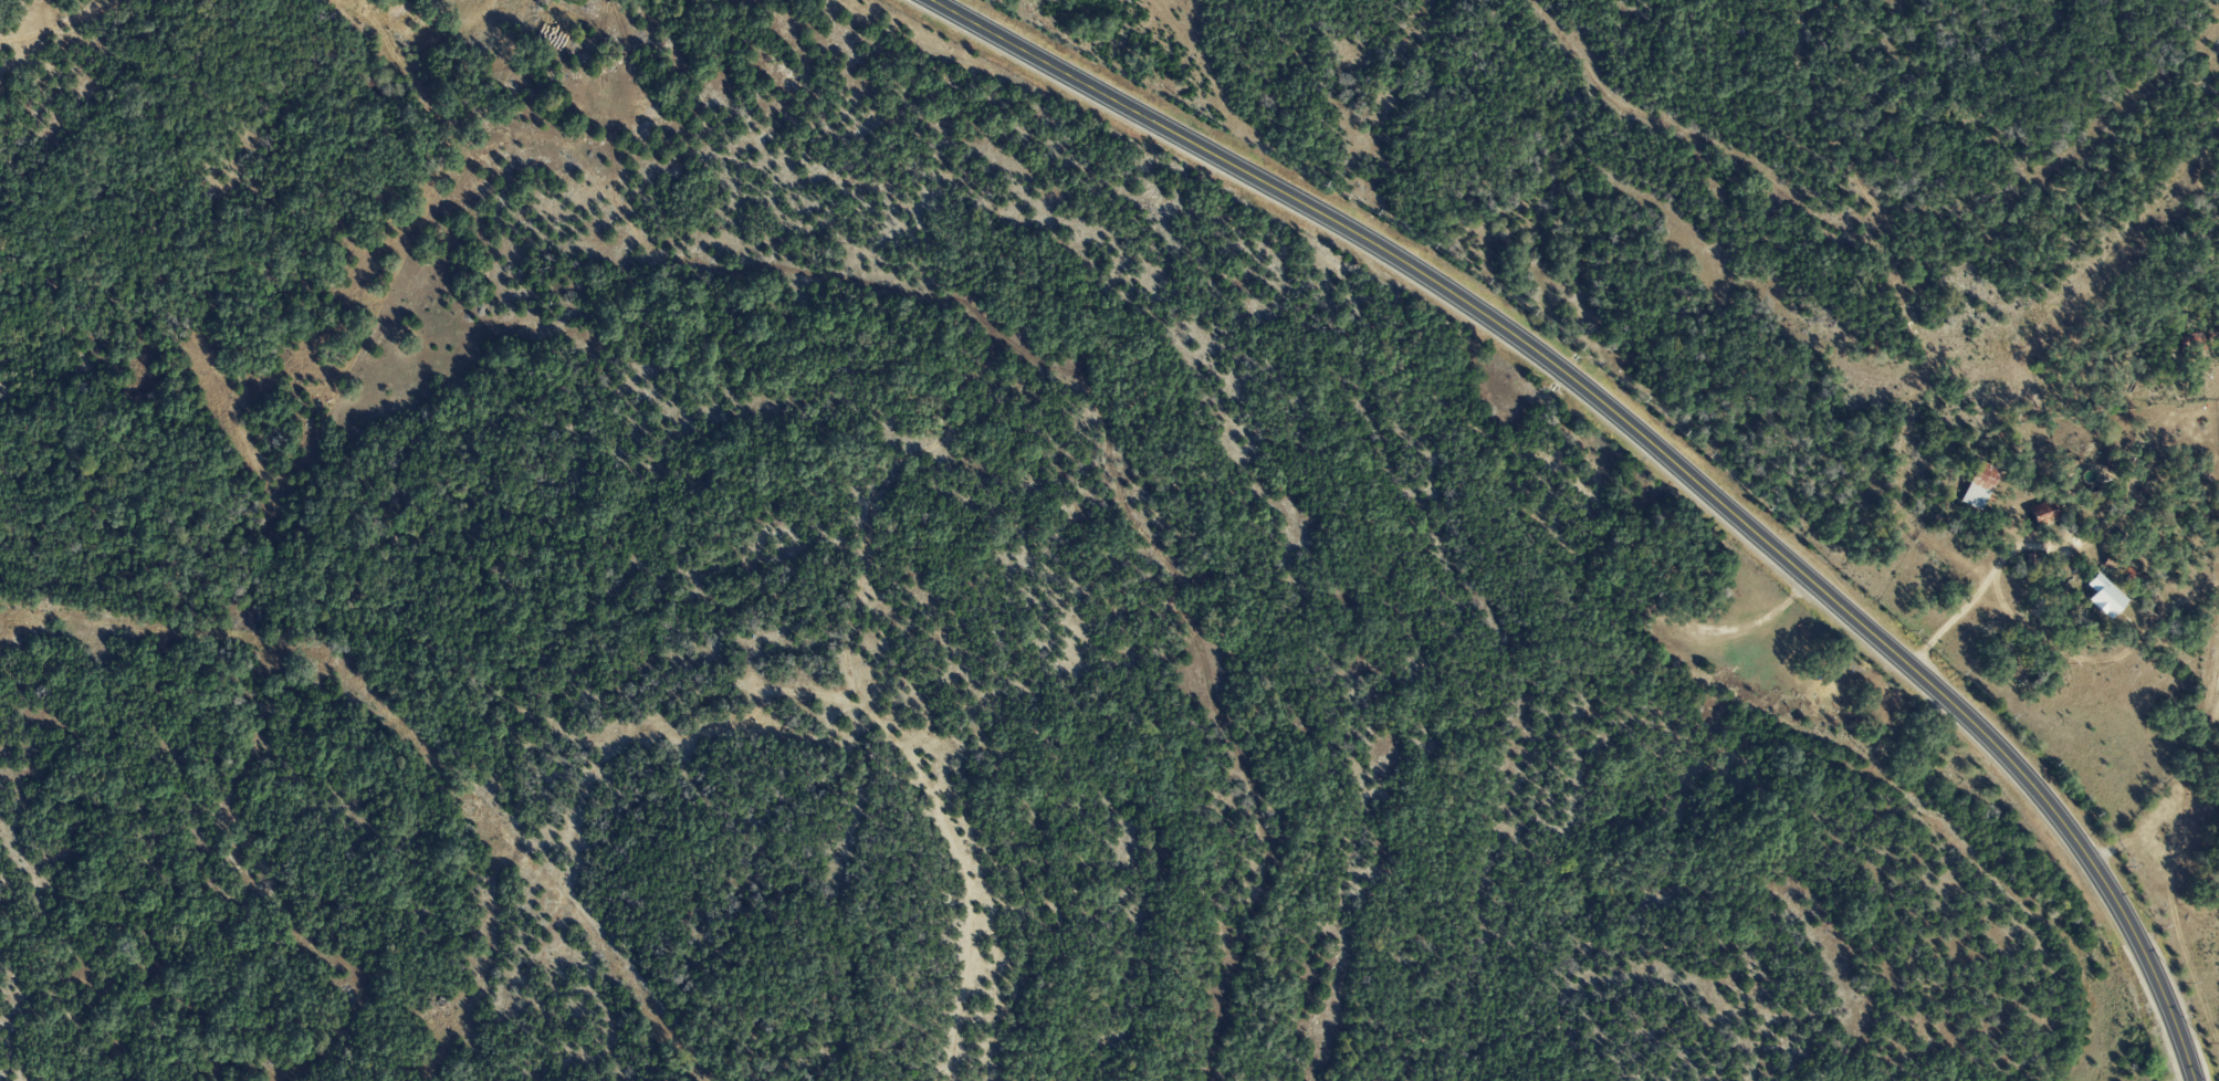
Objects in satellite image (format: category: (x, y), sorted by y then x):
road: (1653, 445)
building: (1978, 484)
building: (2041, 512)
building: (2104, 596)
road: (1962, 605)
road: (1583, 802)

